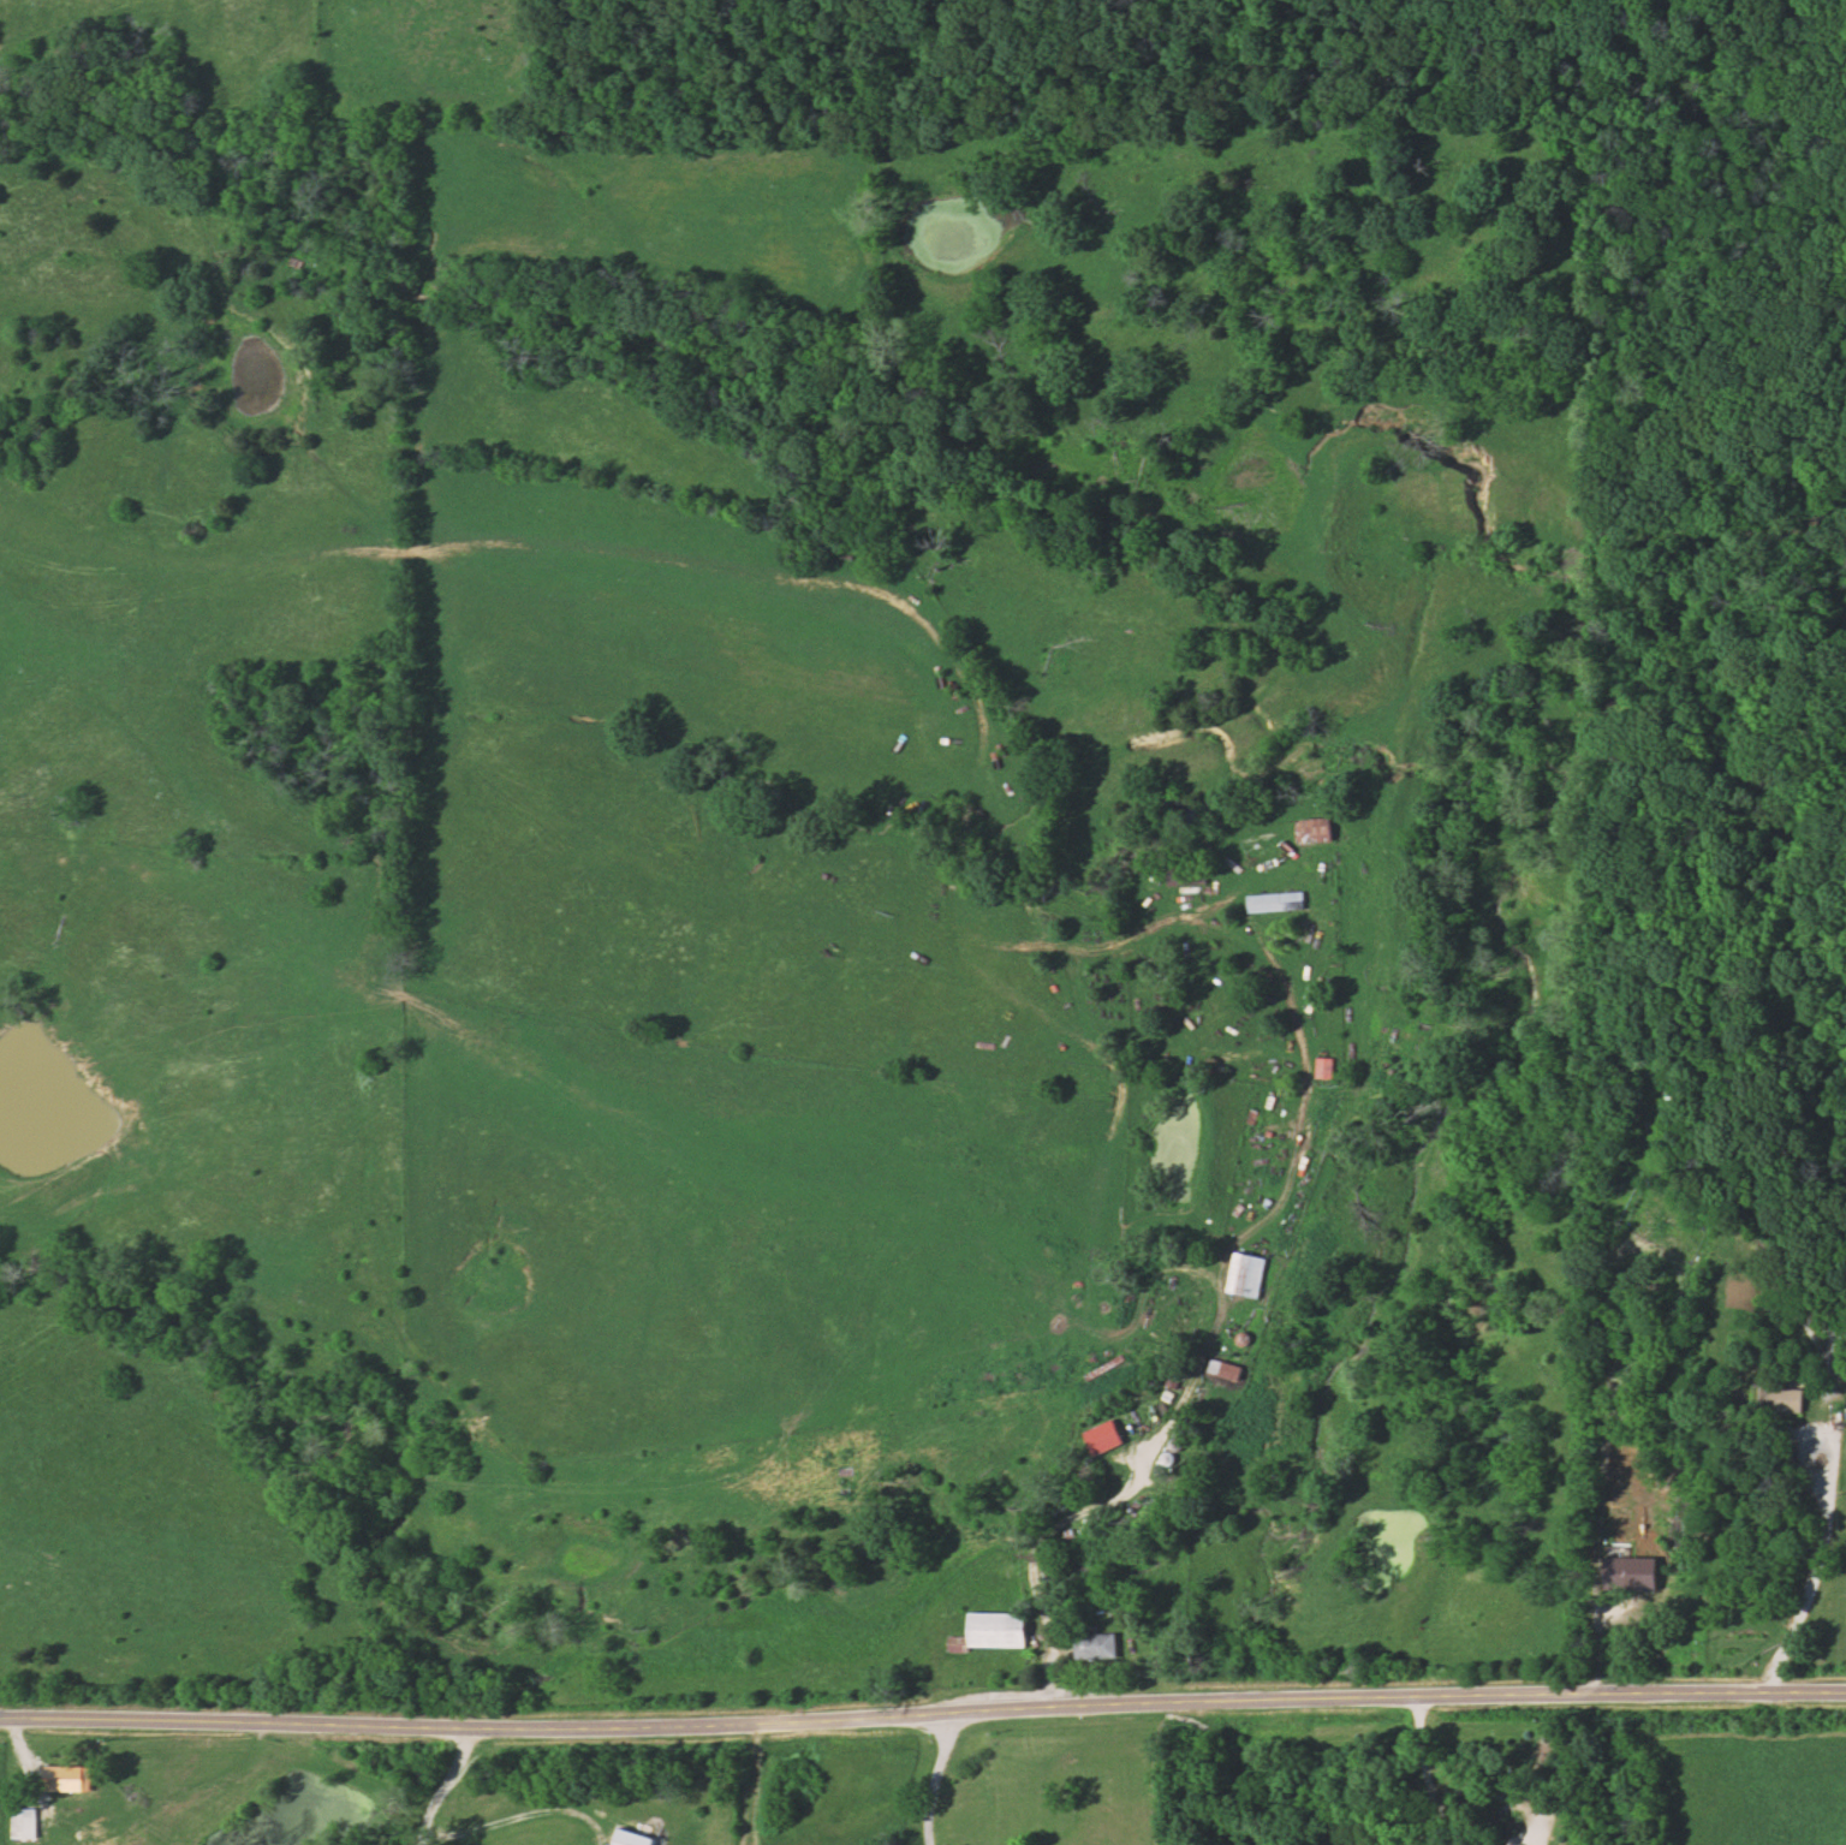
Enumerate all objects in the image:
building: (1317, 831)
building: (1187, 876)
building: (1275, 903)
road: (1154, 924)
building: (1324, 1069)
building: (1247, 1275)
road: (1180, 1392)
building: (1781, 1400)
building: (1104, 1439)
road: (1832, 1439)
road: (1808, 1597)
building: (999, 1631)
building: (957, 1644)
building: (1097, 1648)
road: (922, 1716)
road: (1262, 1772)
road: (1422, 1773)
road: (941, 1779)
road: (757, 1784)
road: (44, 1785)
road: (457, 1786)
building: (24, 1825)
building: (636, 1839)

